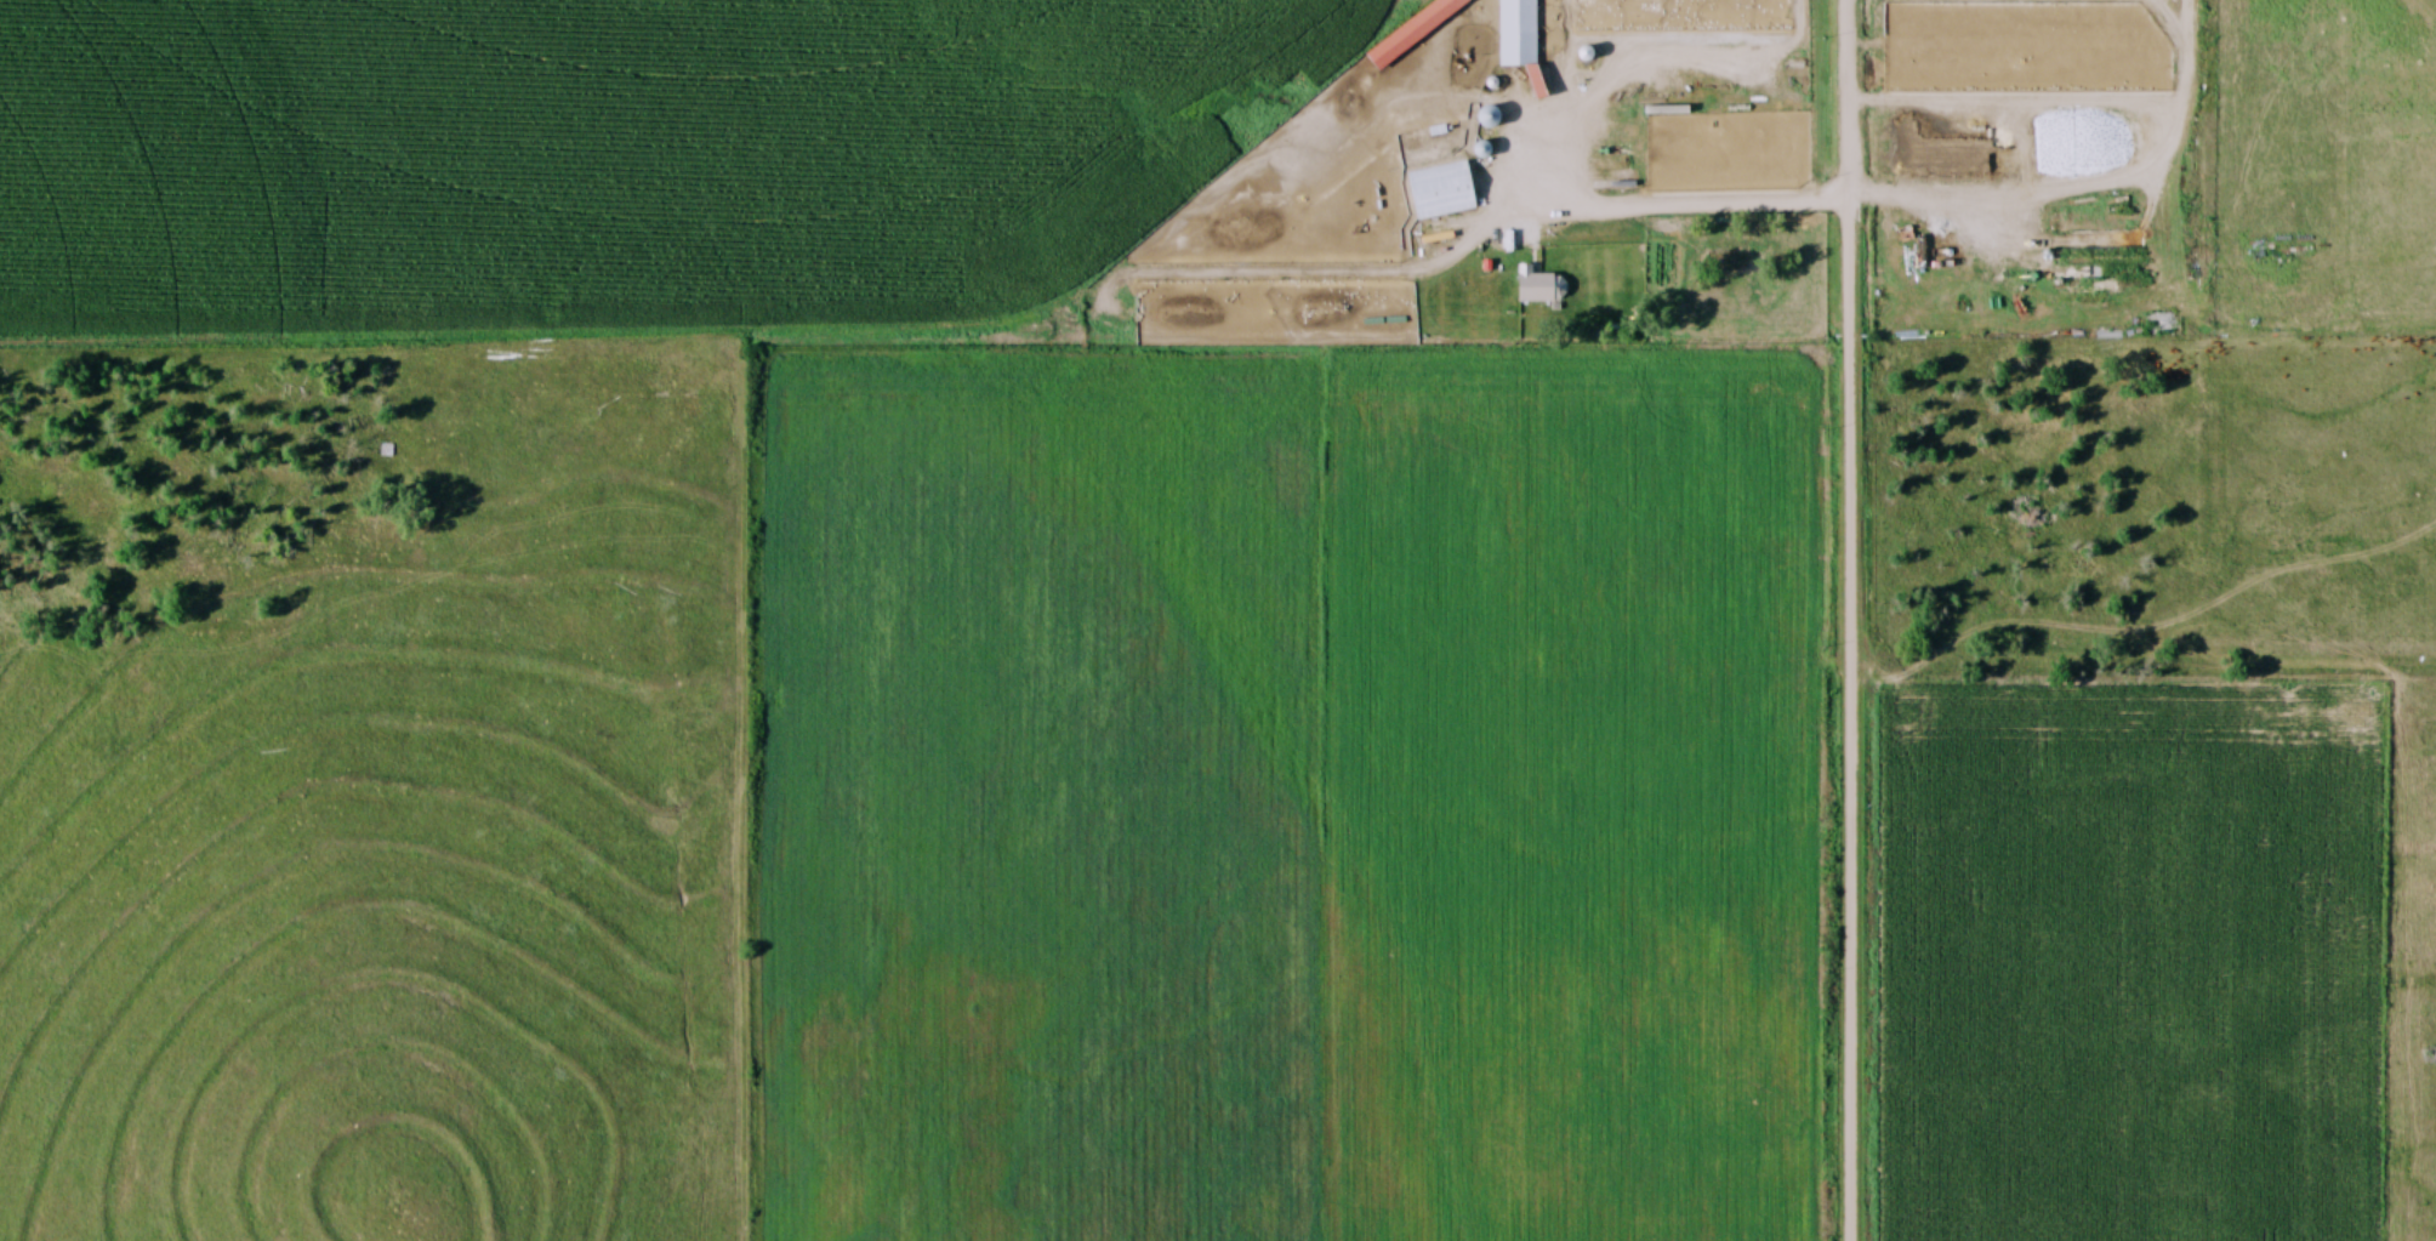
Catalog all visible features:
road: (2066, 104)
building: (1440, 190)
road: (1819, 203)
building: (1538, 285)
road: (1852, 620)

